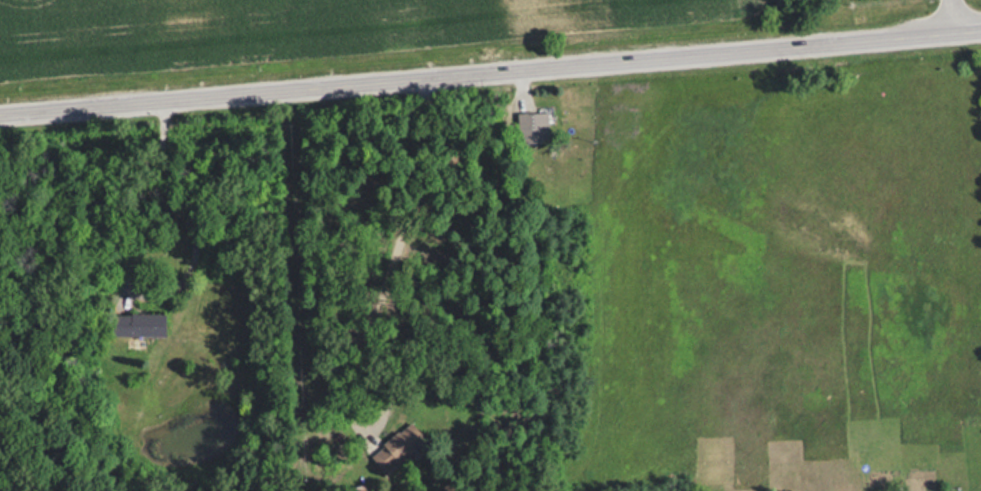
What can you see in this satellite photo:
road: (950, 16)
road: (490, 73)
building: (532, 126)
road: (189, 212)
building: (137, 324)
building: (396, 447)

